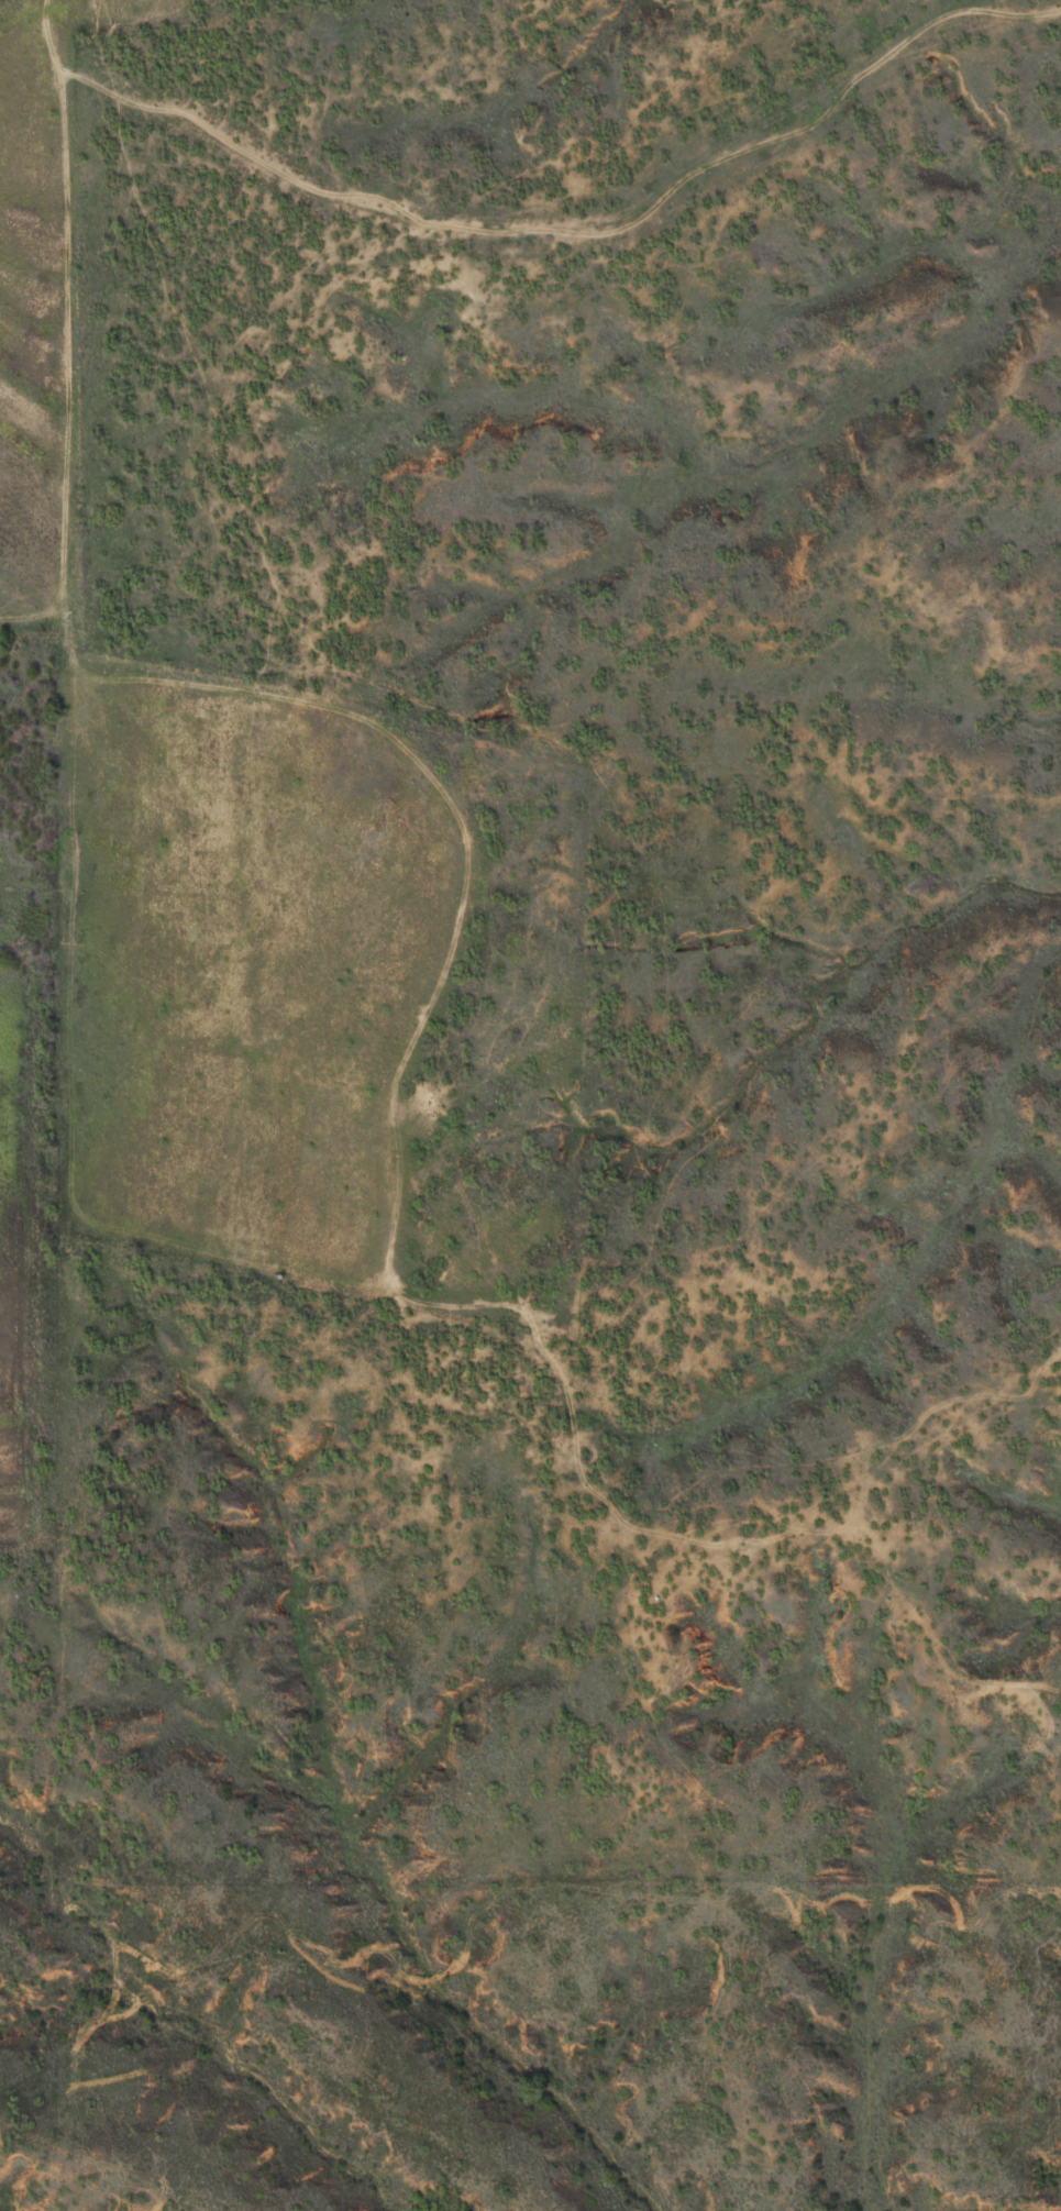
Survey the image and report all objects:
road: (73, 356)

